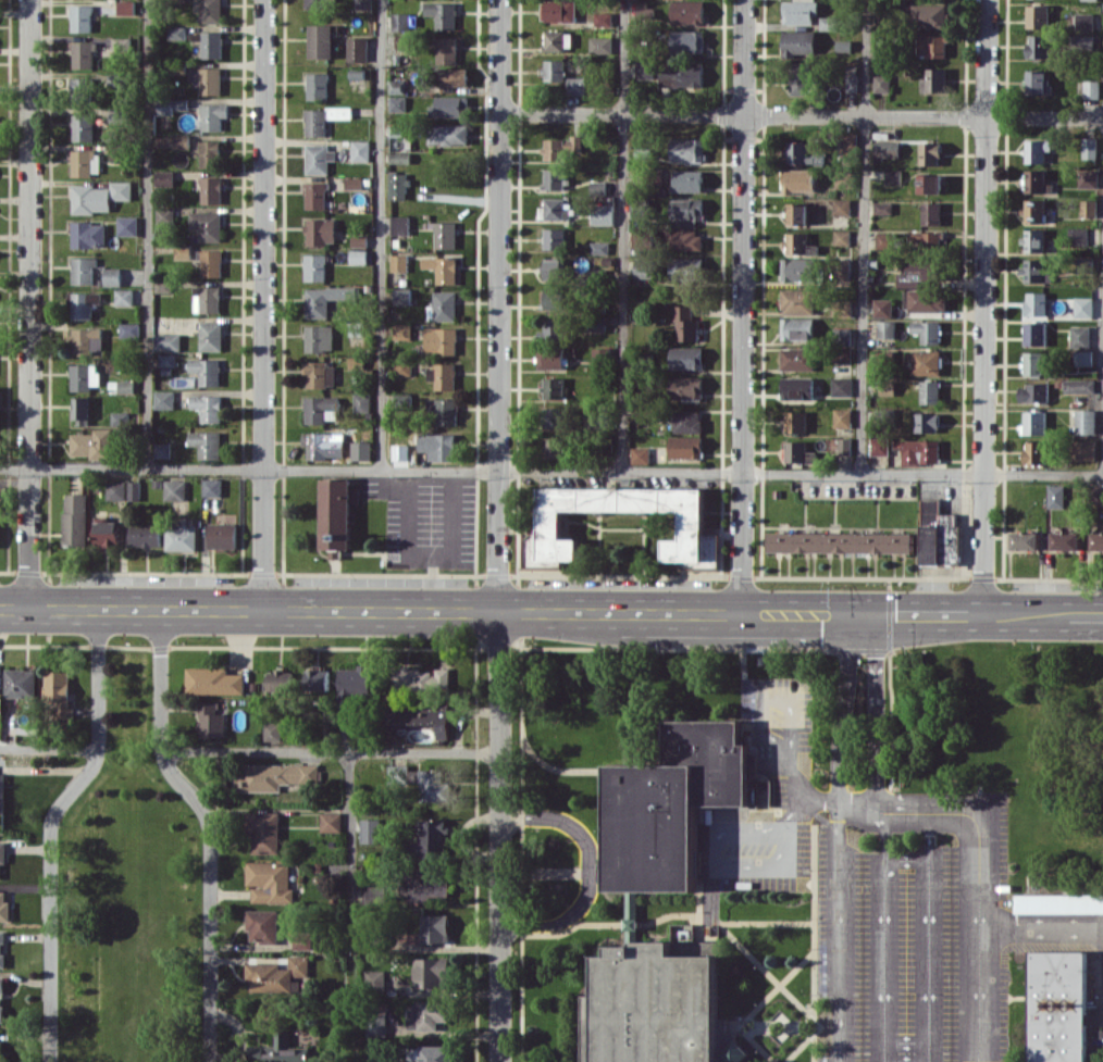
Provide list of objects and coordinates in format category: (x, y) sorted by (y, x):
building: (318, 4)
building: (363, 4)
building: (127, 7)
building: (559, 10)
building: (210, 11)
building: (689, 11)
building: (800, 11)
building: (442, 14)
building: (927, 15)
building: (1038, 16)
building: (82, 17)
building: (604, 18)
building: (400, 21)
building: (1083, 21)
building: (828, 23)
building: (177, 33)
building: (322, 40)
building: (558, 40)
building: (689, 41)
building: (1082, 41)
building: (800, 42)
building: (121, 43)
building: (212, 45)
building: (600, 45)
building: (932, 45)
building: (1038, 46)
building: (358, 49)
building: (447, 50)
building: (84, 54)
building: (555, 70)
building: (645, 70)
building: (453, 76)
building: (681, 76)
building: (801, 78)
building: (852, 78)
building: (207, 79)
building: (934, 80)
building: (881, 83)
building: (1038, 83)
building: (577, 85)
building: (318, 86)
building: (398, 86)
building: (1091, 88)
building: (83, 90)
building: (398, 103)
building: (172, 105)
building: (450, 105)
building: (340, 112)
building: (213, 115)
road: (801, 116)
building: (315, 122)
building: (84, 127)
building: (448, 134)
building: (847, 143)
building: (1089, 147)
building: (563, 148)
building: (687, 149)
building: (887, 149)
building: (360, 150)
building: (1037, 150)
building: (798, 152)
building: (930, 152)
building: (211, 153)
building: (320, 159)
building: (85, 162)
building: (893, 176)
building: (164, 178)
building: (555, 178)
building: (845, 178)
building: (798, 179)
building: (687, 180)
building: (1037, 182)
building: (355, 183)
building: (929, 183)
building: (398, 185)
building: (598, 187)
building: (211, 189)
building: (317, 195)
building: (99, 196)
building: (842, 207)
building: (883, 207)
building: (1088, 208)
building: (556, 209)
building: (1033, 210)
building: (687, 211)
building: (796, 213)
building: (931, 213)
building: (603, 214)
building: (165, 215)
building: (400, 224)
building: (127, 225)
building: (207, 225)
building: (321, 230)
building: (88, 234)
road: (147, 234)
road: (380, 235)
building: (445, 235)
road: (623, 235)
building: (1077, 236)
building: (842, 237)
road: (864, 237)
building: (555, 238)
building: (639, 238)
building: (359, 240)
building: (686, 240)
building: (885, 240)
building: (927, 240)
building: (1033, 240)
building: (796, 242)
building: (599, 247)
building: (359, 255)
building: (211, 262)
building: (399, 262)
building: (315, 266)
building: (645, 267)
building: (442, 268)
building: (553, 268)
building: (686, 268)
building: (797, 268)
building: (83, 270)
building: (1036, 271)
building: (917, 273)
building: (112, 276)
building: (163, 286)
building: (402, 296)
building: (124, 297)
building: (555, 298)
building: (207, 299)
building: (326, 299)
building: (927, 300)
building: (797, 301)
road: (32, 302)
road: (264, 303)
building: (1036, 303)
building: (84, 304)
building: (445, 304)
road: (498, 304)
road: (742, 307)
road: (984, 307)
building: (1083, 307)
building: (882, 308)
building: (596, 322)
building: (685, 323)
building: (551, 328)
building: (796, 328)
building: (885, 328)
building: (129, 329)
building: (402, 330)
building: (927, 330)
building: (1034, 333)
building: (211, 335)
building: (1080, 336)
building: (320, 338)
building: (441, 340)
building: (168, 341)
building: (843, 354)
building: (1083, 357)
building: (550, 358)
building: (602, 358)
building: (686, 358)
building: (168, 359)
building: (797, 359)
building: (926, 361)
building: (1033, 363)
building: (207, 371)
building: (320, 374)
building: (442, 375)
building: (84, 376)
building: (1079, 385)
building: (126, 386)
building: (842, 386)
building: (554, 387)
building: (686, 387)
building: (887, 387)
building: (797, 388)
building: (930, 391)
building: (1033, 391)
building: (0, 392)
building: (164, 399)
building: (361, 402)
building: (208, 407)
building: (320, 409)
building: (82, 410)
building: (442, 411)
building: (843, 416)
building: (554, 417)
building: (123, 418)
building: (687, 421)
building: (795, 421)
building: (1085, 421)
building: (927, 422)
building: (1033, 422)
building: (94, 443)
building: (207, 443)
building: (324, 445)
building: (437, 445)
building: (844, 446)
building: (879, 446)
building: (553, 447)
building: (686, 447)
building: (162, 449)
building: (1085, 449)
building: (361, 450)
building: (918, 451)
building: (800, 452)
building: (1034, 452)
building: (641, 454)
road: (550, 471)
road: (454, 475)
road: (388, 479)
road: (454, 483)
building: (213, 487)
building: (116, 489)
building: (175, 489)
building: (135, 490)
building: (1096, 495)
building: (1055, 496)
building: (336, 514)
building: (76, 518)
building: (549, 522)
building: (108, 533)
building: (182, 534)
building: (938, 534)
building: (146, 535)
building: (223, 535)
building: (0, 540)
building: (1025, 540)
building: (1065, 540)
building: (841, 541)
building: (1096, 542)
road: (248, 607)
road: (800, 614)
traffic signals: (847, 615)
traffic signals: (875, 615)
road: (889, 615)
road: (742, 675)
building: (422, 678)
building: (280, 679)
building: (318, 679)
building: (213, 680)
building: (22, 683)
building: (355, 685)
building: (59, 691)
road: (765, 698)
road: (843, 707)
road: (875, 712)
parking lot: (777, 716)
building: (419, 717)
building: (210, 720)
building: (272, 730)
road: (49, 748)
road: (331, 751)
road: (891, 755)
road: (550, 766)
building: (398, 773)
building: (274, 776)
road: (798, 782)
building: (433, 785)
parking lot: (777, 790)
building: (2, 792)
road: (808, 798)
building: (666, 804)
building: (331, 822)
road: (212, 825)
road: (51, 826)
building: (370, 829)
building: (263, 832)
road: (500, 835)
road: (883, 835)
road: (928, 836)
building: (434, 837)
road: (521, 849)
parking lot: (765, 853)
building: (2, 854)
road: (905, 858)
road: (709, 864)
road: (587, 870)
road: (978, 870)
road: (560, 872)
building: (269, 880)
building: (426, 886)
park: (128, 891)
building: (372, 892)
road: (710, 894)
road: (698, 900)
road: (350, 902)
building: (1058, 902)
building: (4, 907)
road: (761, 922)
road: (617, 923)
building: (262, 925)
road: (1040, 925)
building: (435, 928)
road: (836, 929)
building: (301, 940)
road: (813, 942)
parking lot: (915, 942)
building: (2, 948)
road: (883, 960)
road: (928, 960)
building: (432, 972)
building: (276, 974)
building: (375, 977)
road: (639, 977)
road: (778, 982)
road: (776, 986)
road: (1016, 996)
building: (1, 999)
building: (655, 1000)
building: (1055, 1005)
building: (427, 1014)
road: (1093, 1014)
road: (782, 1024)
road: (810, 1034)
road: (905, 1041)
road: (755, 1042)
building: (278, 1050)
building: (1, 1051)
building: (436, 1053)
road: (905, 1061)

